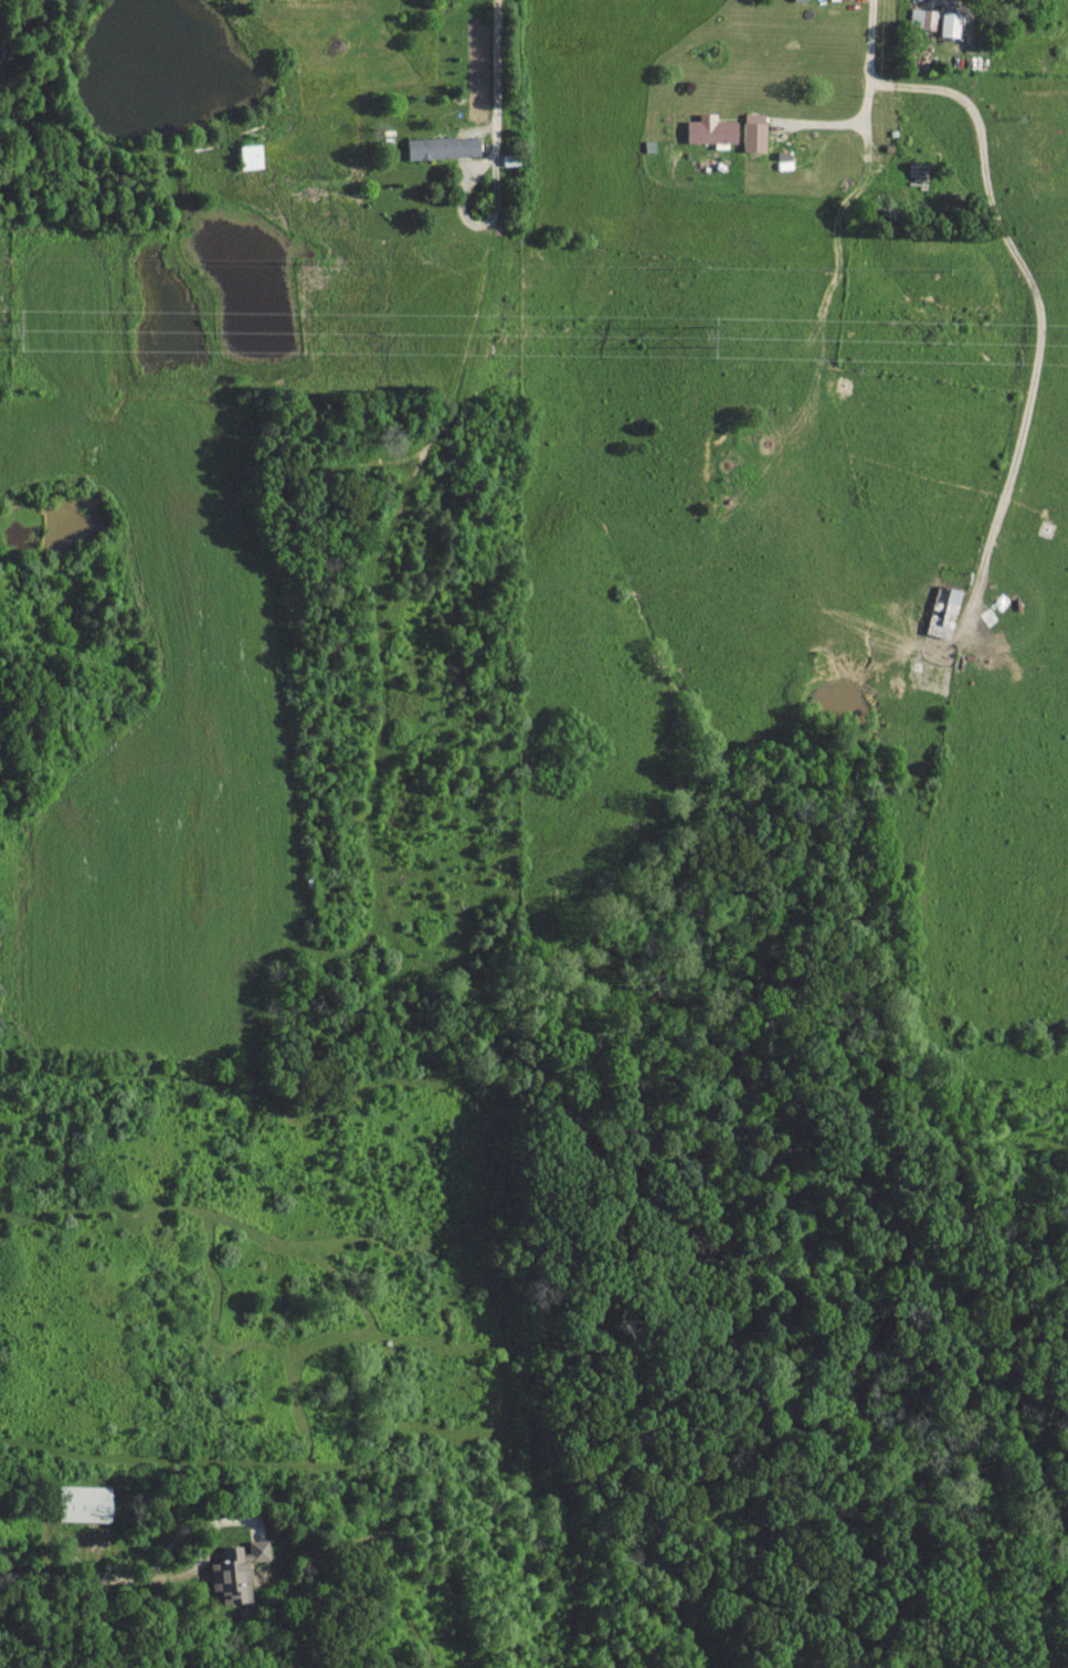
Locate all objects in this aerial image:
building: (921, 18)
building: (951, 23)
road: (871, 61)
road: (497, 73)
building: (711, 129)
building: (754, 131)
building: (444, 147)
building: (252, 156)
building: (511, 159)
road: (1039, 305)
power tower: (12, 324)
power tower: (702, 334)
building: (943, 610)
building: (85, 1502)
building: (237, 1570)
road: (140, 1577)

